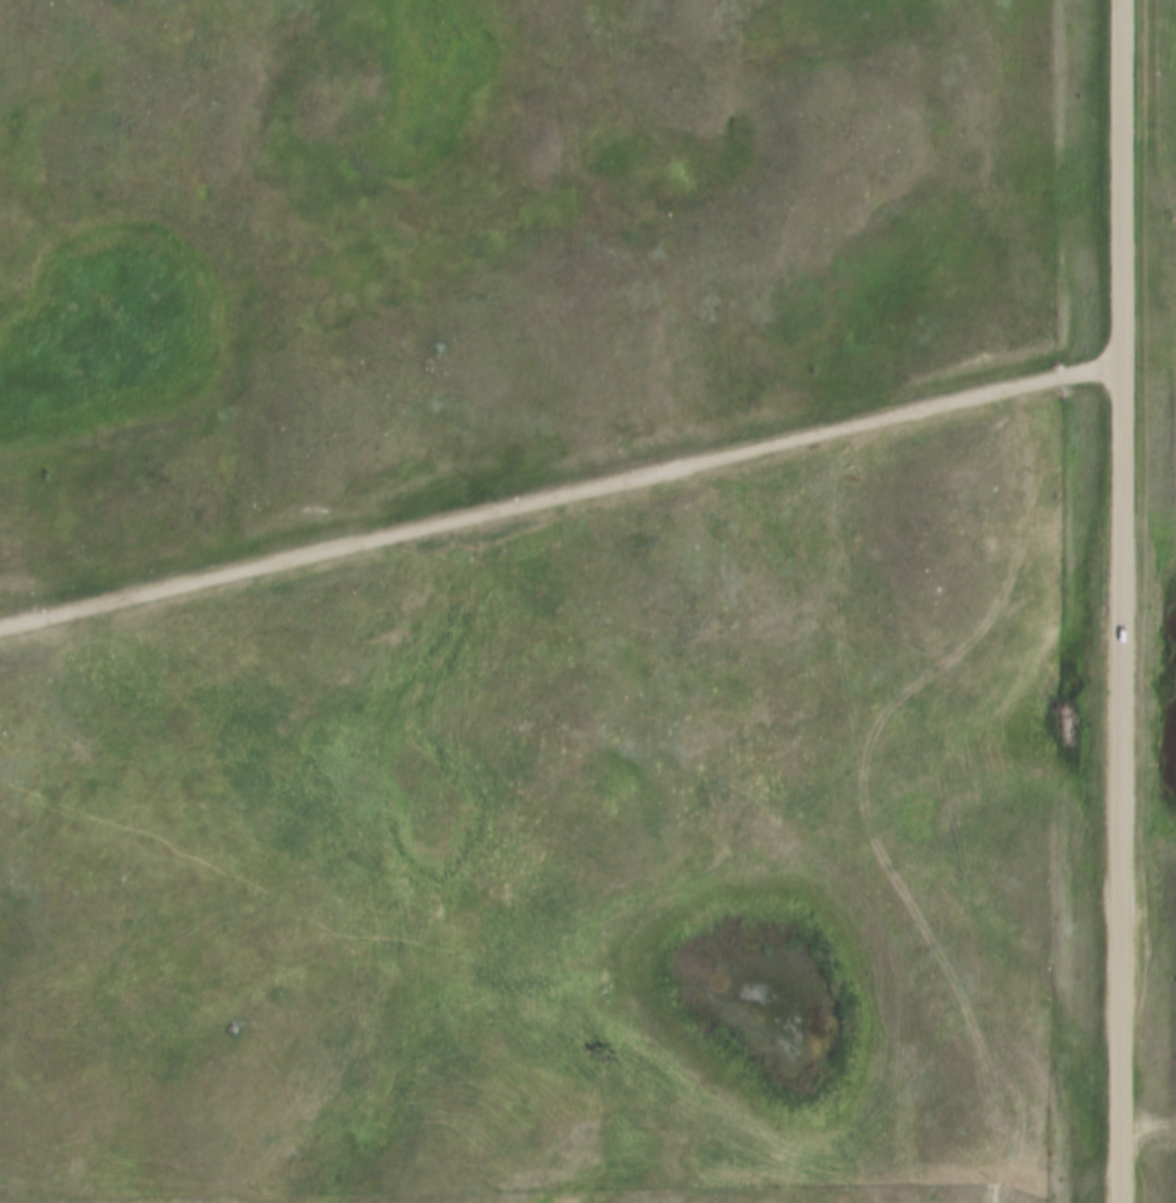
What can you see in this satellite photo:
road: (559, 488)
road: (1117, 601)

